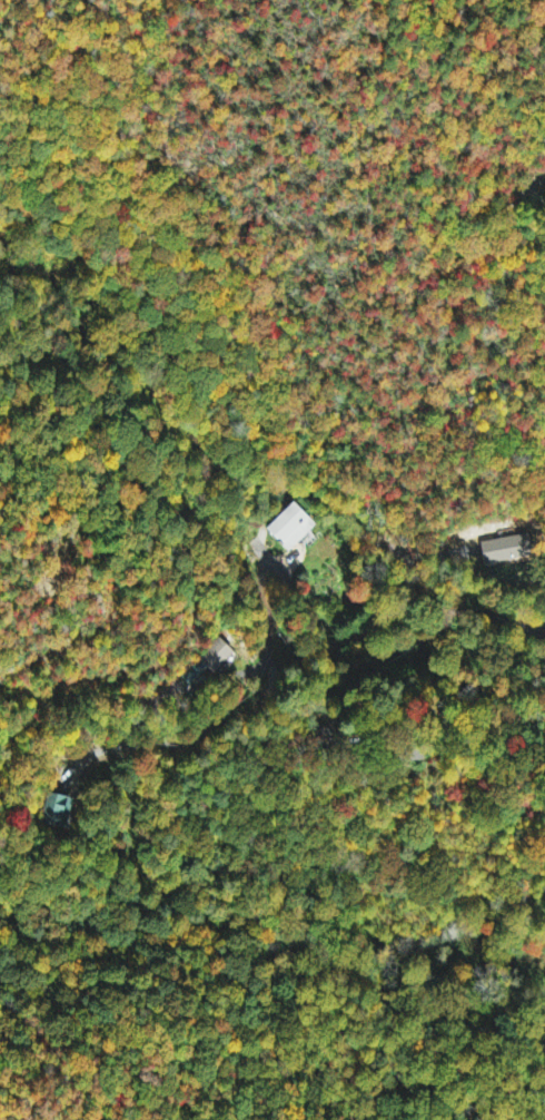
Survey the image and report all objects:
road: (532, 186)
building: (293, 527)
building: (509, 549)
road: (414, 601)
road: (269, 621)
building: (220, 656)

